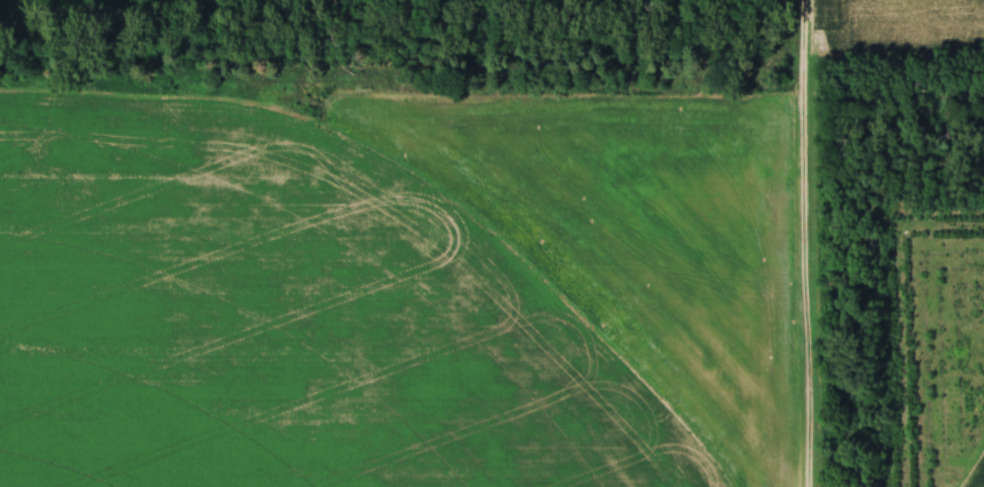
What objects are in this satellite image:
road: (805, 243)

